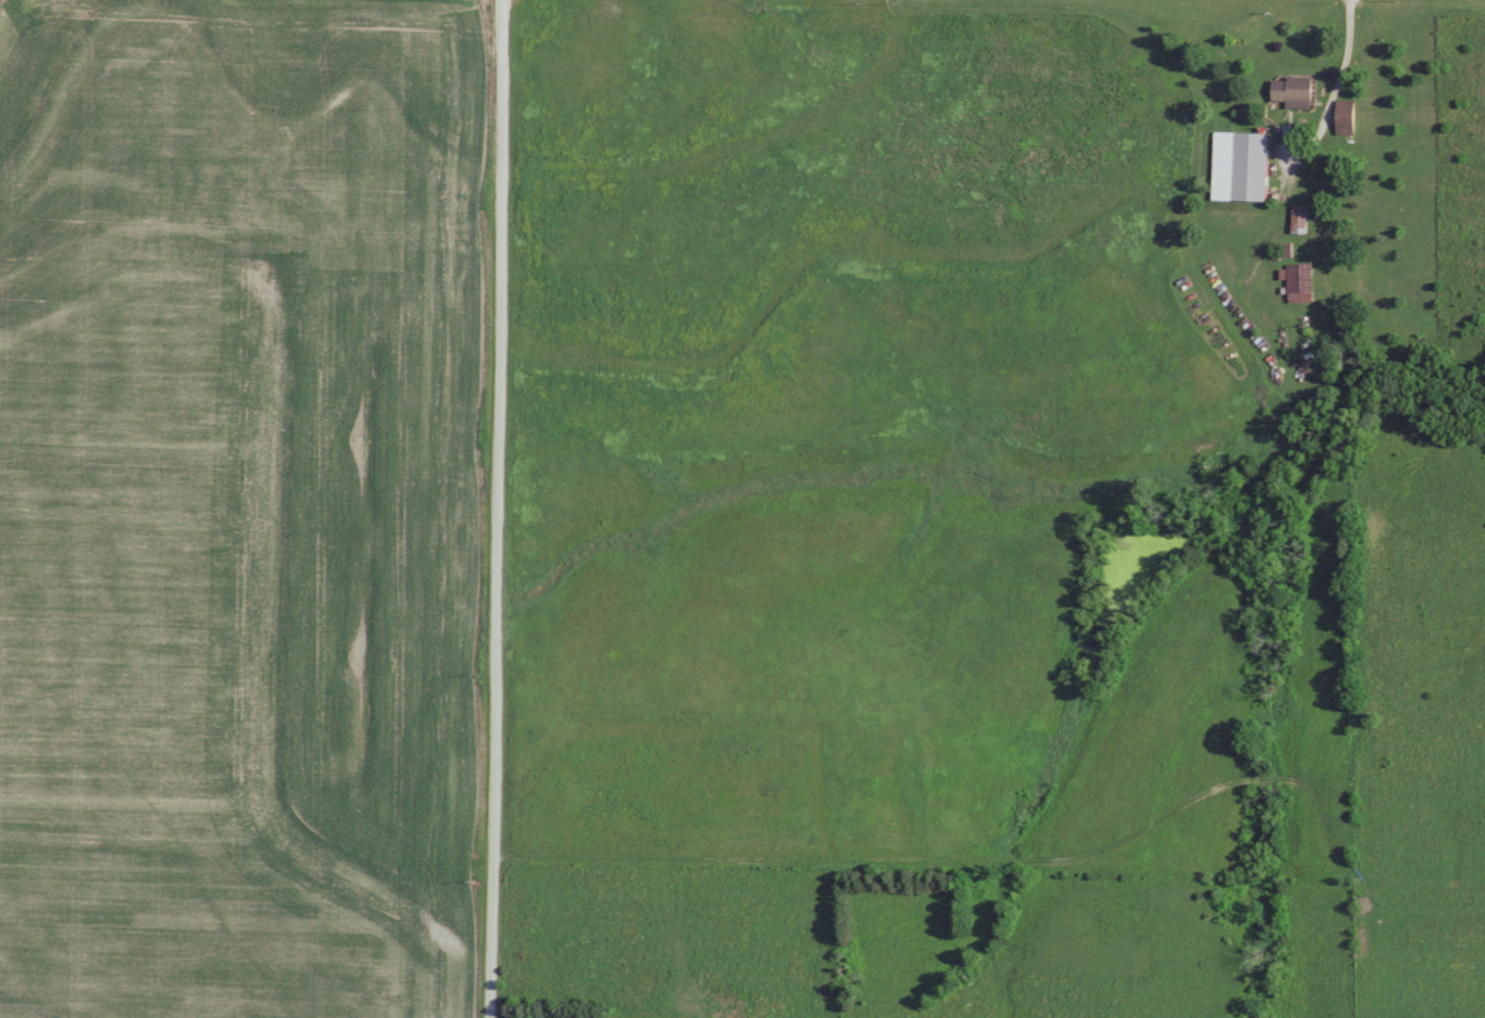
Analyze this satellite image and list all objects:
building: (1249, 166)
road: (496, 509)

